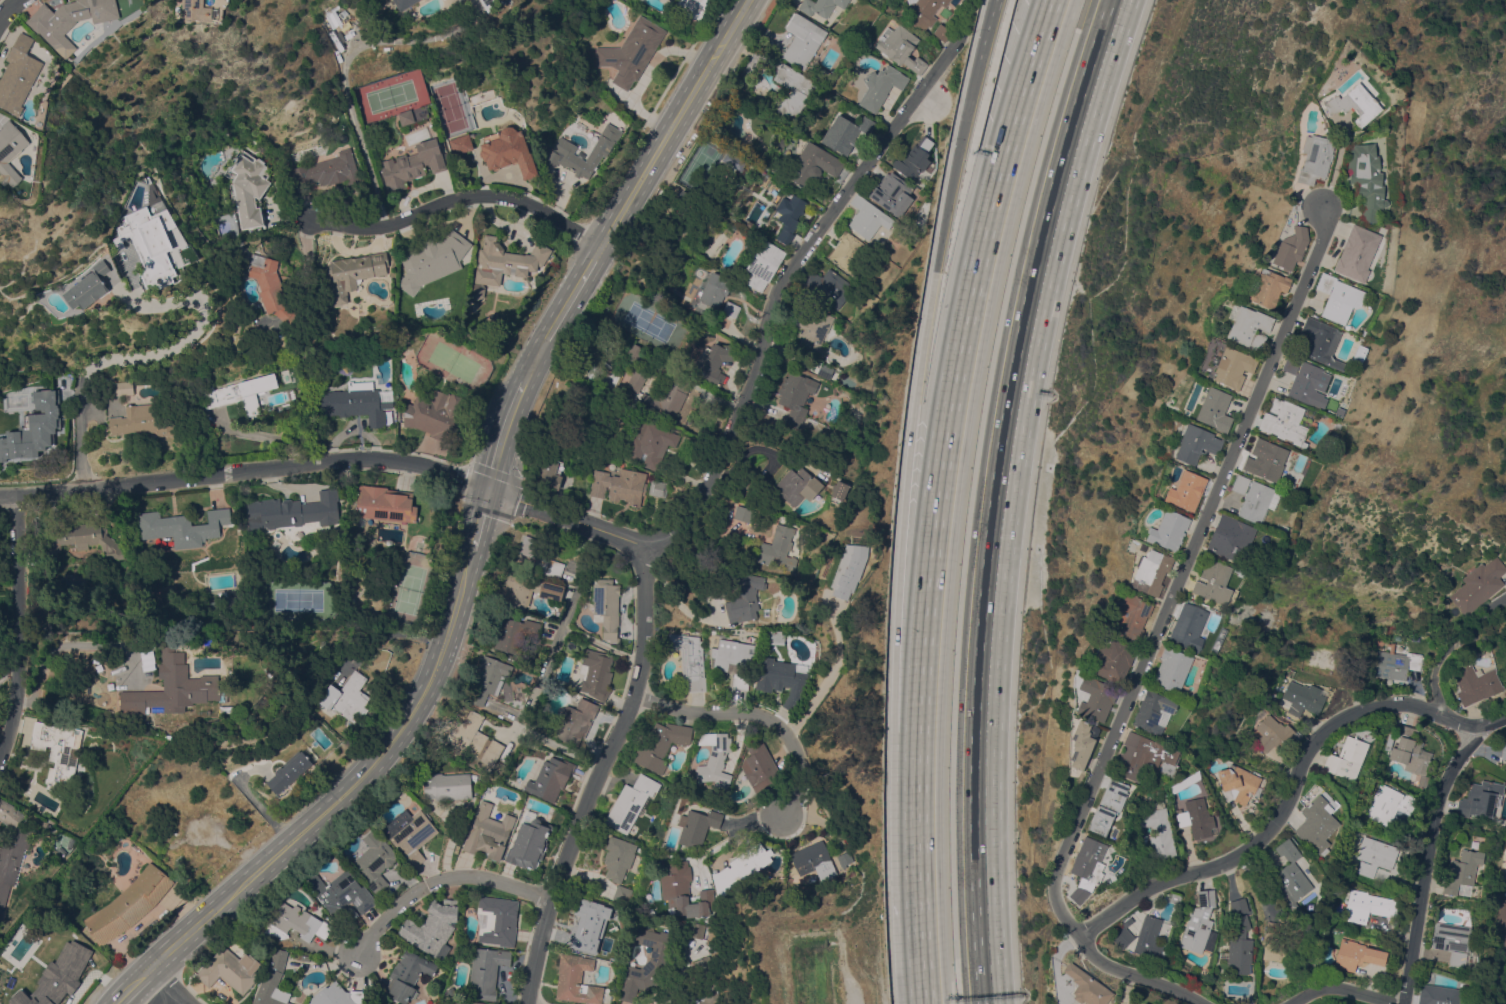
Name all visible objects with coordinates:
building: (671, 0)
building: (484, 1)
building: (404, 3)
building: (821, 6)
building: (692, 8)
building: (199, 11)
building: (923, 12)
road: (8, 14)
building: (72, 20)
road: (986, 28)
building: (943, 31)
building: (803, 39)
building: (901, 47)
building: (631, 51)
building: (823, 72)
building: (21, 75)
road: (344, 80)
building: (881, 86)
building: (793, 90)
building: (1354, 104)
building: (413, 114)
building: (845, 132)
building: (460, 144)
building: (12, 149)
building: (507, 150)
building: (558, 150)
building: (915, 158)
building: (1316, 158)
building: (815, 163)
building: (413, 164)
building: (328, 169)
building: (1367, 179)
building: (247, 187)
road: (635, 189)
building: (892, 193)
building: (149, 197)
building: (683, 197)
road: (459, 203)
building: (1296, 204)
building: (789, 215)
building: (868, 217)
road: (942, 228)
building: (148, 243)
building: (1291, 248)
building: (848, 252)
building: (1357, 253)
building: (431, 259)
building: (504, 263)
building: (764, 263)
building: (354, 272)
building: (826, 285)
building: (88, 286)
building: (271, 288)
building: (1267, 288)
building: (711, 293)
road: (785, 293)
building: (1338, 298)
building: (731, 308)
building: (1250, 328)
building: (813, 332)
building: (1321, 342)
building: (633, 352)
road: (151, 357)
road: (961, 361)
building: (713, 362)
building: (1232, 366)
building: (636, 380)
building: (1306, 381)
building: (121, 388)
building: (242, 392)
building: (796, 395)
building: (357, 402)
building: (663, 403)
building: (1215, 409)
building: (436, 413)
building: (148, 419)
building: (1284, 421)
road: (506, 432)
building: (25, 435)
road: (262, 436)
building: (650, 444)
building: (1197, 444)
building: (1265, 459)
road: (246, 471)
building: (549, 473)
building: (798, 485)
traffic signals: (492, 486)
building: (630, 486)
building: (657, 488)
building: (751, 488)
building: (839, 490)
building: (1186, 490)
road: (994, 495)
building: (1253, 498)
building: (385, 503)
building: (293, 511)
building: (742, 513)
road: (571, 515)
road: (483, 519)
building: (182, 527)
building: (1168, 530)
building: (1230, 538)
building: (85, 539)
building: (275, 544)
building: (779, 548)
building: (541, 556)
building: (1439, 562)
road: (918, 567)
building: (849, 569)
building: (1152, 572)
road: (1180, 573)
building: (1213, 582)
building: (1478, 585)
building: (528, 590)
building: (744, 598)
road: (676, 601)
building: (606, 606)
building: (1129, 617)
building: (1189, 627)
road: (16, 633)
building: (515, 633)
building: (1415, 635)
building: (1433, 639)
building: (1378, 641)
road: (601, 643)
road: (69, 644)
road: (1447, 647)
building: (731, 653)
building: (512, 657)
building: (690, 659)
building: (1112, 659)
building: (375, 661)
road: (545, 662)
building: (1395, 663)
building: (1172, 669)
building: (596, 673)
building: (490, 677)
road: (829, 678)
building: (740, 680)
building: (782, 680)
building: (1475, 683)
building: (175, 687)
building: (347, 697)
building: (1096, 698)
building: (1303, 698)
building: (1154, 711)
building: (579, 713)
road: (1437, 713)
road: (756, 730)
building: (1275, 734)
building: (473, 738)
building: (1082, 743)
road: (554, 744)
building: (661, 746)
building: (1503, 750)
building: (58, 751)
building: (1411, 754)
building: (1145, 757)
building: (714, 758)
building: (1347, 758)
building: (1505, 766)
building: (760, 767)
building: (289, 771)
building: (549, 778)
road: (599, 781)
road: (351, 782)
building: (1185, 782)
building: (1239, 782)
building: (447, 786)
building: (1480, 799)
building: (631, 802)
building: (1389, 804)
building: (1108, 806)
building: (1196, 818)
building: (1317, 824)
building: (697, 826)
building: (1159, 830)
building: (487, 832)
road: (737, 832)
building: (410, 833)
building: (529, 843)
building: (12, 849)
road: (1247, 849)
building: (1375, 855)
building: (618, 857)
road: (1425, 858)
building: (375, 860)
building: (813, 860)
building: (741, 868)
road: (921, 868)
building: (1087, 868)
building: (1464, 868)
building: (1291, 876)
road: (441, 878)
building: (1504, 878)
building: (684, 891)
building: (622, 894)
building: (342, 895)
building: (129, 904)
building: (1368, 906)
building: (497, 920)
building: (296, 922)
building: (590, 922)
building: (1198, 923)
building: (433, 928)
building: (697, 930)
building: (1504, 932)
building: (1123, 934)
building: (1149, 937)
building: (1239, 940)
building: (1451, 941)
building: (1285, 943)
building: (1357, 955)
building: (653, 965)
building: (705, 966)
building: (227, 970)
building: (486, 971)
building: (64, 972)
road: (1135, 974)
building: (409, 975)
building: (272, 979)
building: (576, 980)
road: (134, 982)
road: (173, 984)
building: (1087, 986)
road: (1344, 988)
building: (709, 992)
building: (338, 995)
building: (1438, 995)
road: (174, 998)
building: (468, 1002)
building: (1082, 1003)
building: (1143, 1003)

